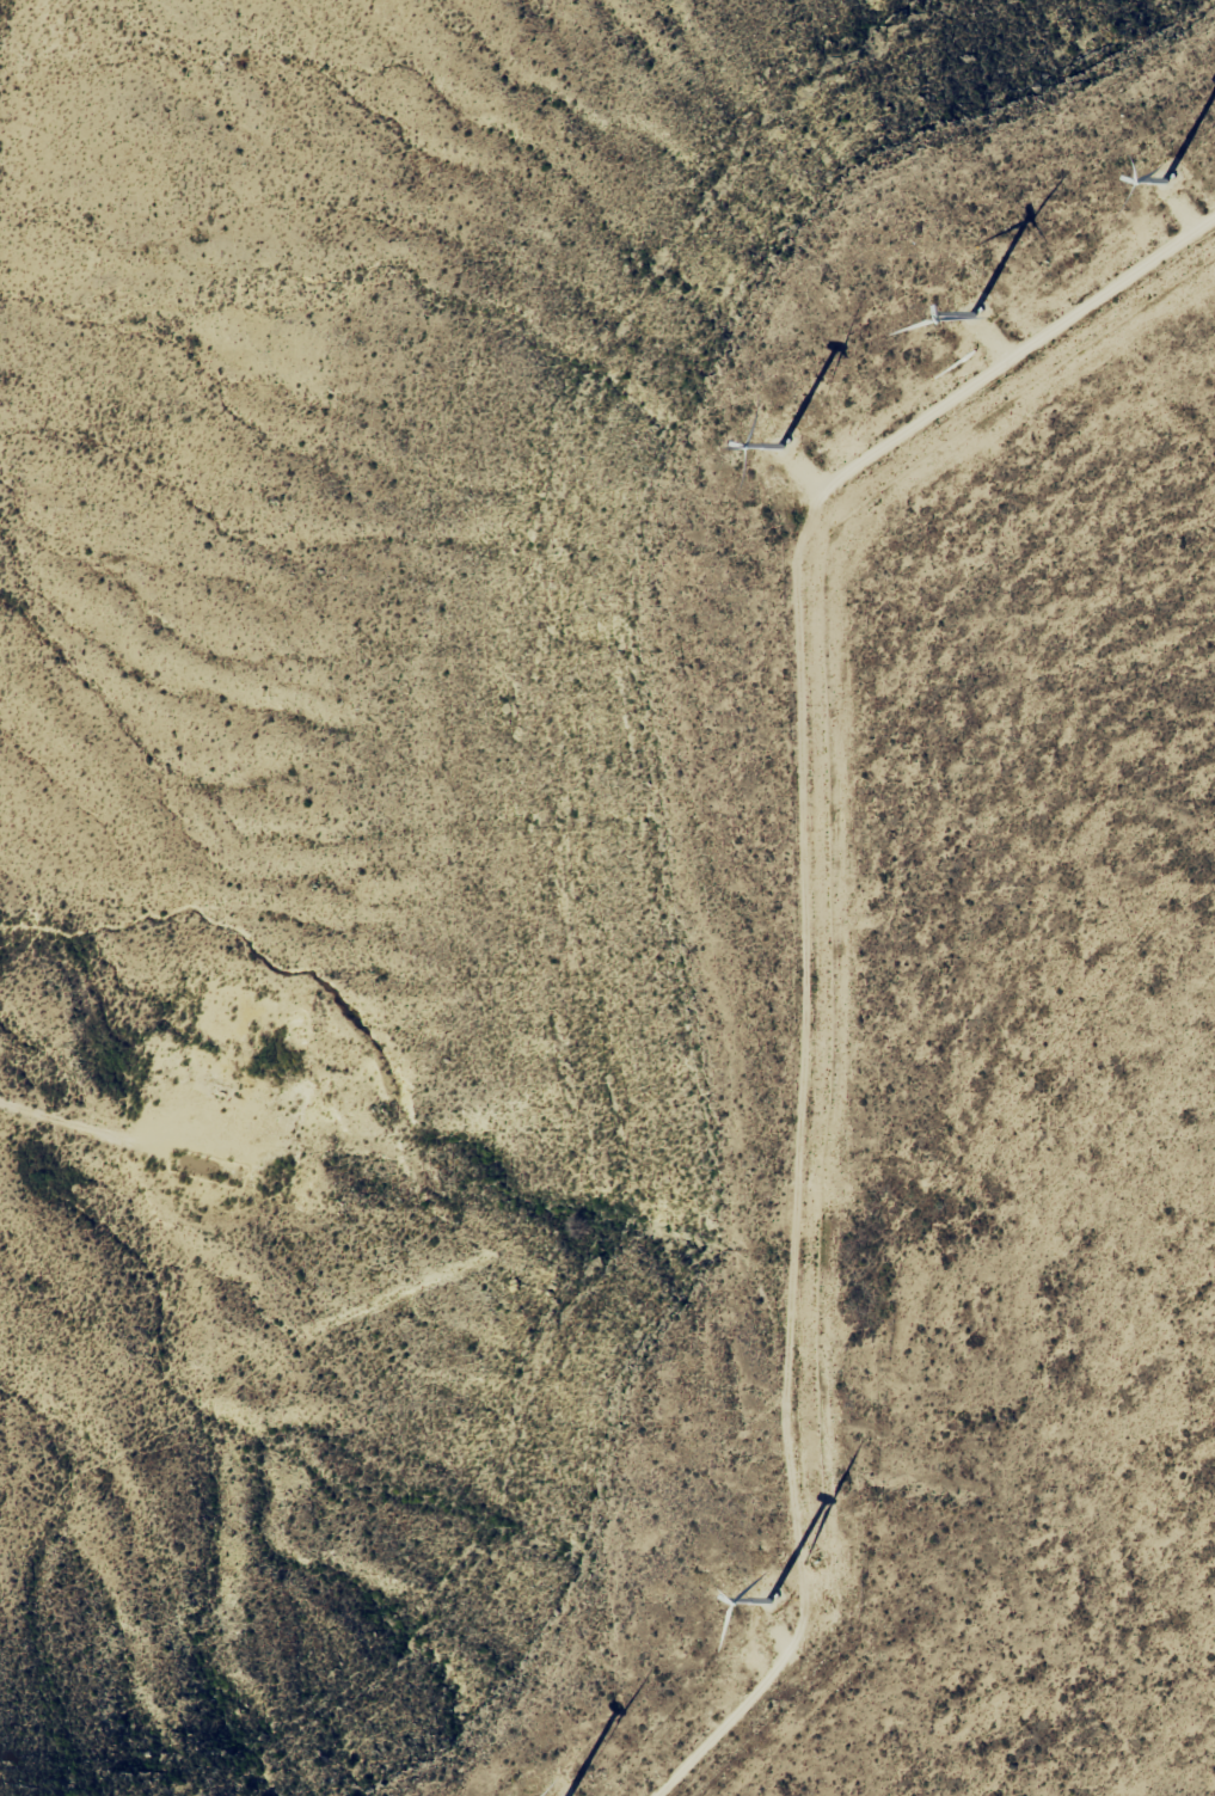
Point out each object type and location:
wind turbine: (1168, 189)
wind turbine: (968, 313)
wind turbine: (781, 449)
wind turbine: (774, 1608)

